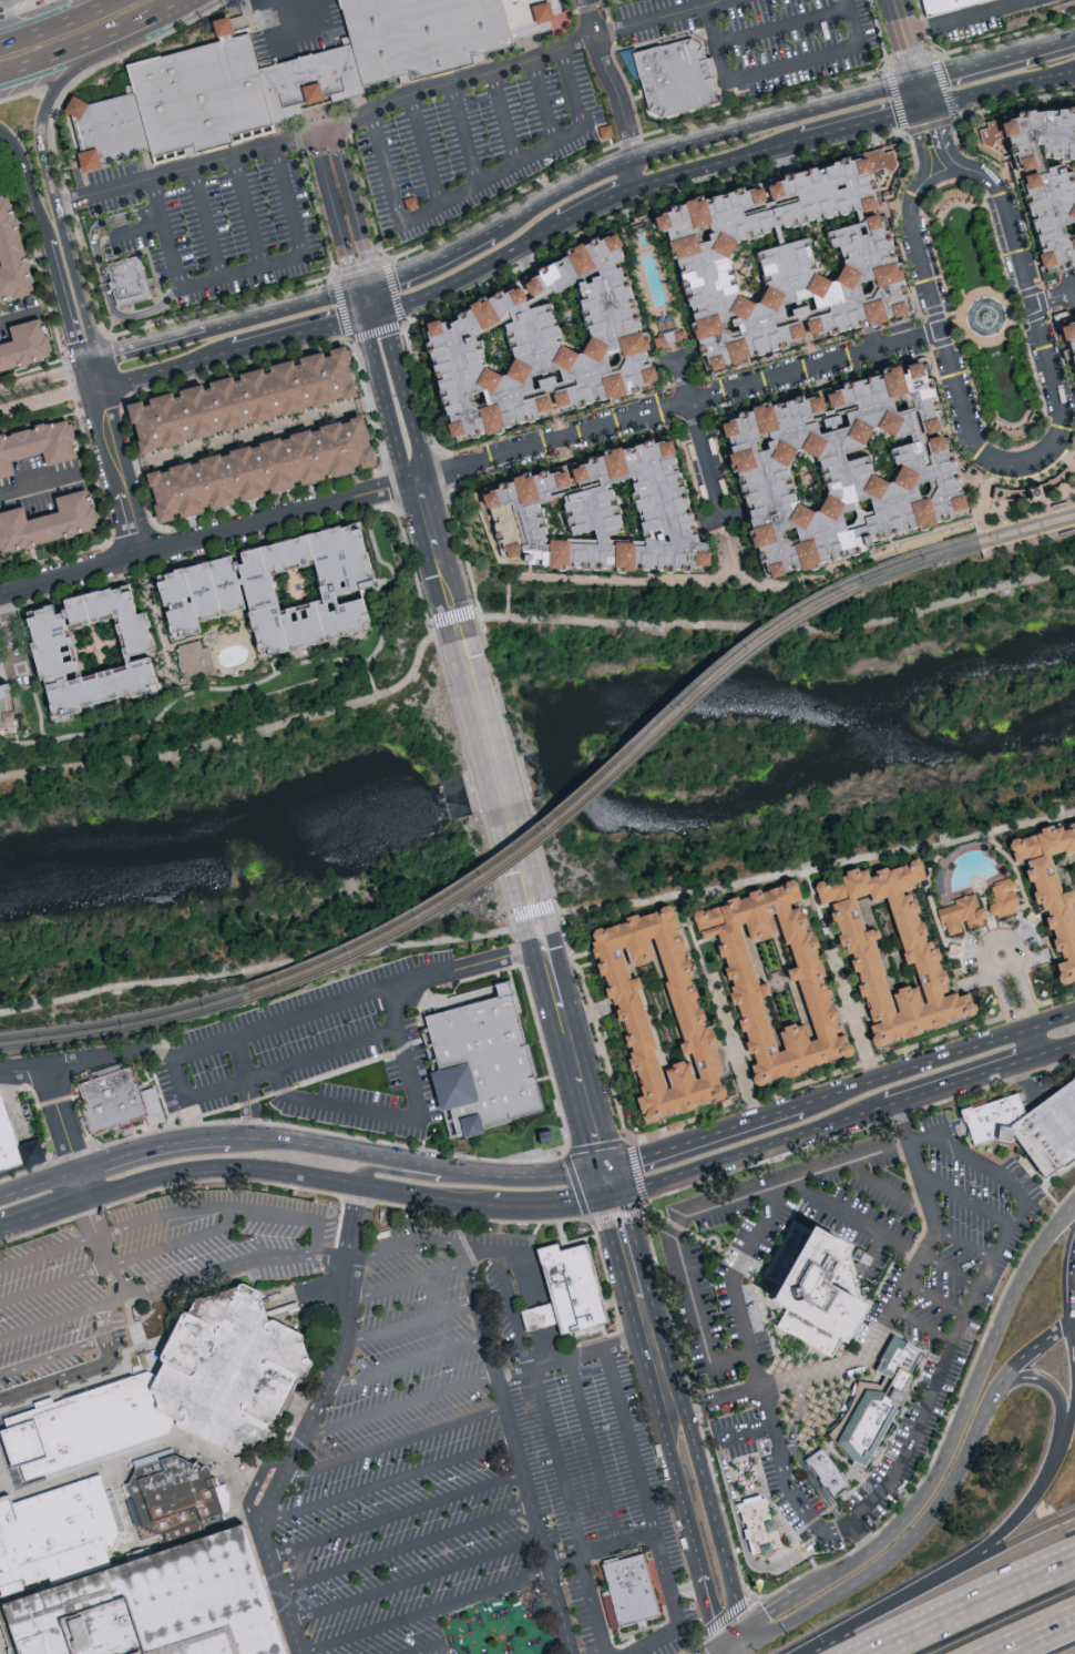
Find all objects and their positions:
building: (939, 4)
road: (42, 7)
road: (166, 12)
road: (294, 12)
road: (658, 17)
road: (899, 18)
road: (973, 19)
road: (59, 23)
road: (780, 24)
road: (72, 51)
road: (911, 60)
road: (996, 62)
road: (775, 67)
road: (65, 76)
building: (284, 78)
road: (608, 80)
building: (682, 83)
traffic signals: (918, 83)
road: (1000, 89)
road: (921, 95)
road: (543, 100)
traffic signals: (924, 108)
road: (505, 115)
road: (776, 121)
road: (862, 124)
road: (327, 131)
road: (465, 132)
road: (426, 147)
road: (14, 150)
road: (719, 162)
road: (636, 175)
road: (942, 176)
building: (1038, 181)
road: (475, 183)
road: (327, 185)
road: (563, 195)
road: (598, 204)
road: (35, 205)
road: (354, 208)
road: (247, 212)
road: (208, 223)
road: (140, 228)
building: (771, 259)
building: (8, 261)
road: (70, 262)
road: (348, 265)
road: (430, 265)
road: (242, 273)
road: (102, 276)
road: (469, 276)
road: (1023, 277)
building: (135, 286)
traffic signals: (365, 289)
road: (1010, 295)
road: (1052, 297)
road: (965, 300)
road: (61, 304)
road: (368, 304)
road: (931, 304)
road: (286, 309)
road: (953, 313)
road: (20, 316)
fountain: (986, 317)
traffic signals: (372, 318)
road: (303, 336)
building: (18, 345)
road: (152, 345)
building: (525, 345)
building: (1064, 353)
road: (89, 363)
road: (168, 371)
road: (101, 374)
road: (40, 378)
road: (84, 379)
road: (96, 390)
road: (103, 399)
building: (231, 400)
road: (95, 401)
road: (44, 406)
road: (698, 433)
road: (257, 435)
building: (34, 443)
road: (470, 469)
building: (828, 470)
building: (244, 471)
road: (416, 471)
road: (122, 482)
road: (38, 491)
building: (576, 517)
railway: (1025, 521)
building: (43, 522)
railway: (974, 525)
railway: (1027, 531)
railway: (950, 543)
railway: (981, 551)
railway: (953, 552)
building: (259, 592)
road: (403, 601)
road: (454, 626)
road: (779, 629)
road: (10, 633)
building: (75, 652)
building: (188, 660)
road: (175, 694)
building: (0, 723)
road: (232, 732)
river: (535, 770)
railway: (593, 779)
road: (501, 783)
railway: (597, 789)
road: (818, 865)
building: (1050, 887)
building: (1000, 898)
building: (959, 913)
road: (536, 917)
building: (888, 946)
building: (921, 952)
road: (500, 960)
road: (256, 969)
building: (777, 983)
building: (812, 983)
road: (1022, 989)
road: (1004, 996)
road: (311, 1010)
building: (647, 1011)
railway: (125, 1019)
road: (854, 1021)
road: (1052, 1021)
railway: (126, 1029)
road: (1033, 1043)
road: (1056, 1050)
parking lot: (324, 1052)
road: (575, 1052)
road: (736, 1053)
road: (107, 1059)
road: (1028, 1060)
building: (488, 1064)
road: (914, 1069)
road: (269, 1071)
road: (1027, 1082)
road: (953, 1085)
road: (246, 1088)
building: (117, 1102)
road: (59, 1115)
road: (406, 1119)
building: (1031, 1126)
road: (704, 1139)
building: (16, 1147)
road: (153, 1147)
road: (351, 1152)
road: (750, 1153)
traffic signals: (606, 1165)
road: (224, 1171)
road: (539, 1175)
road: (411, 1177)
road: (610, 1181)
road: (38, 1184)
road: (888, 1187)
road: (1016, 1192)
traffic signals: (614, 1196)
road: (429, 1198)
road: (965, 1204)
road: (554, 1206)
road: (223, 1209)
road: (44, 1214)
road: (857, 1222)
road: (1, 1228)
road: (416, 1240)
road: (178, 1245)
road: (963, 1245)
road: (49, 1254)
road: (494, 1254)
road: (632, 1266)
parking lot: (144, 1267)
road: (949, 1272)
road: (1068, 1277)
road: (187, 1280)
road: (408, 1283)
road: (54, 1287)
road: (737, 1287)
road: (311, 1293)
building: (581, 1296)
building: (820, 1296)
road: (934, 1300)
road: (117, 1301)
parking lot: (508, 1310)
road: (537, 1310)
road: (513, 1314)
road: (1073, 1316)
road: (53, 1323)
road: (413, 1324)
road: (882, 1325)
road: (921, 1327)
road: (349, 1328)
road: (1027, 1349)
road: (55, 1358)
road: (575, 1358)
road: (409, 1366)
road: (82, 1372)
road: (662, 1375)
road: (1072, 1387)
building: (175, 1392)
building: (884, 1403)
road: (401, 1407)
road: (960, 1412)
road: (746, 1437)
road: (396, 1446)
road: (594, 1452)
road: (134, 1454)
road: (523, 1458)
parking lot: (405, 1462)
road: (1046, 1470)
building: (822, 1471)
building: (836, 1474)
road: (262, 1482)
road: (389, 1482)
road: (275, 1488)
parking lot: (594, 1489)
road: (678, 1490)
building: (176, 1497)
road: (569, 1512)
road: (646, 1513)
road: (398, 1517)
road: (714, 1517)
building: (752, 1523)
building: (58, 1533)
road: (858, 1534)
road: (746, 1544)
road: (898, 1548)
road: (408, 1549)
road: (602, 1549)
road: (932, 1578)
road: (417, 1581)
road: (277, 1585)
building: (631, 1591)
building: (157, 1604)
road: (708, 1604)
road: (971, 1605)
road: (771, 1609)
road: (428, 1612)
traffic signals: (741, 1629)
road: (735, 1632)
road: (1027, 1632)
traffic signals: (728, 1636)
road: (741, 1638)
road: (735, 1642)
road: (715, 1644)
road: (431, 1648)
traffic signals: (741, 1648)
building: (1, 1651)
road: (736, 1651)
road: (0, 1653)
road: (699, 1653)

